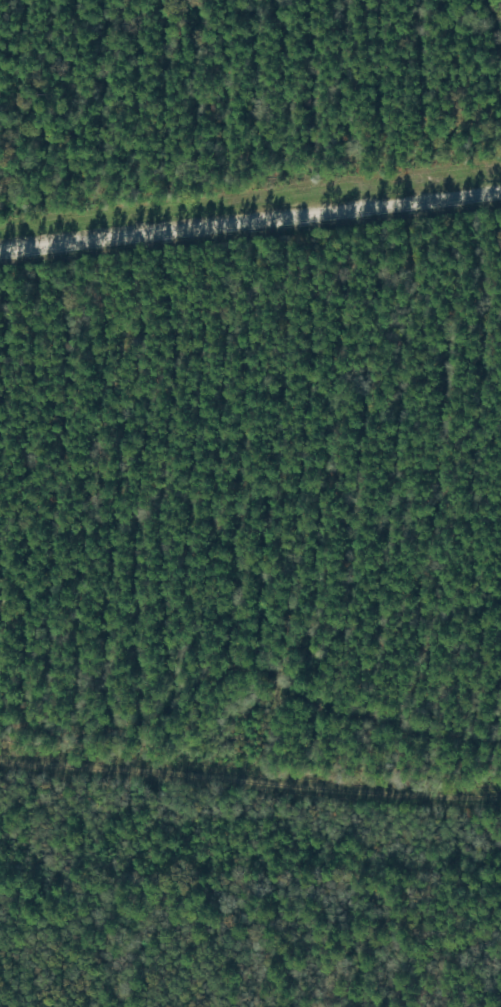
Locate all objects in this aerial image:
road: (250, 710)

